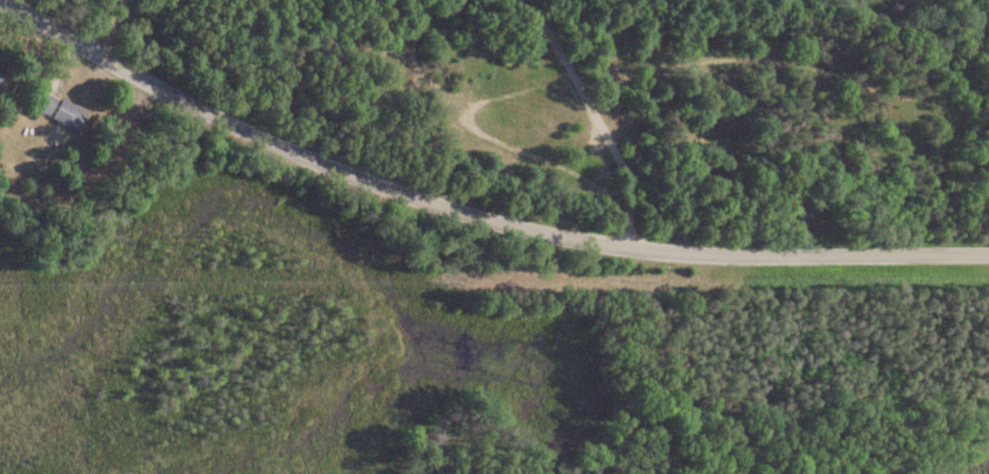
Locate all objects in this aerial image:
building: (5, 83)
building: (61, 113)
road: (476, 210)

